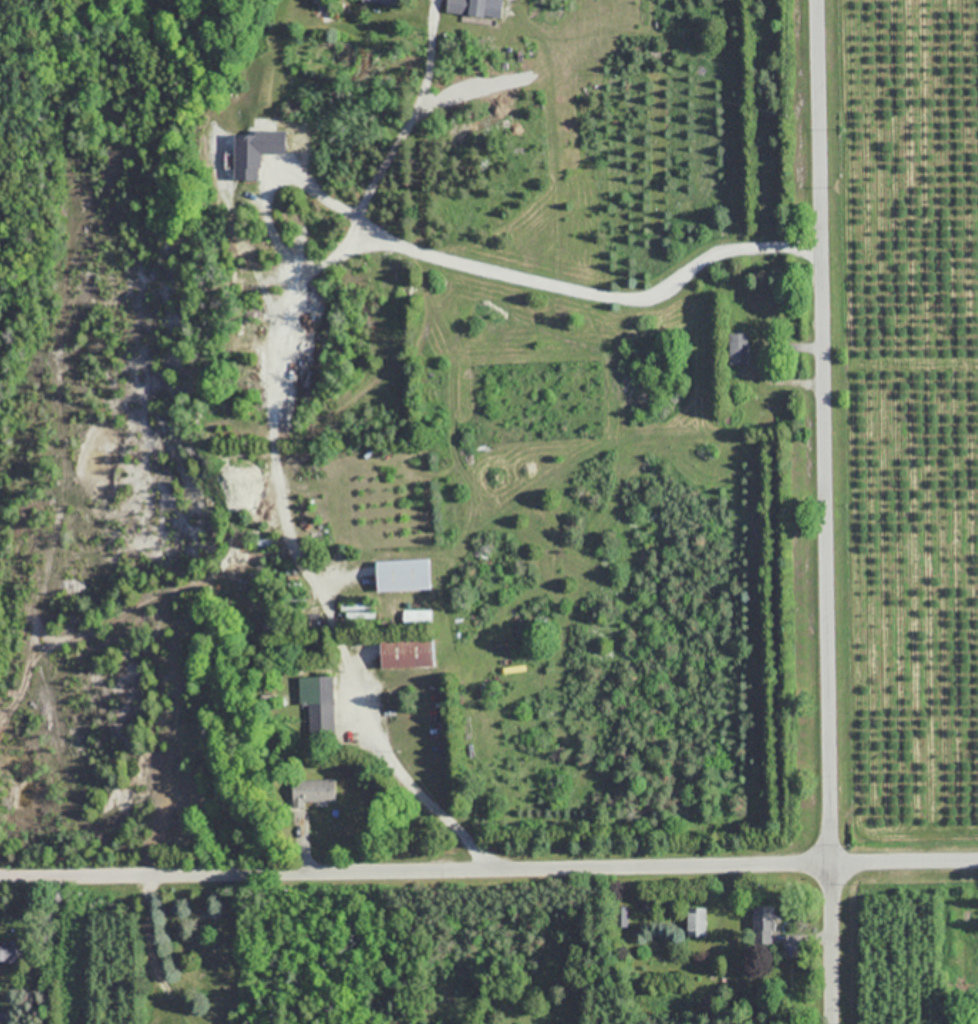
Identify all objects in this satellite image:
building: (381, 1)
building: (475, 7)
road: (793, 345)
building: (738, 348)
road: (825, 511)
building: (401, 575)
building: (404, 652)
building: (318, 703)
building: (311, 791)
road: (433, 801)
road: (296, 841)
road: (489, 869)
building: (621, 916)
building: (695, 921)
building: (764, 924)
building: (10, 951)

